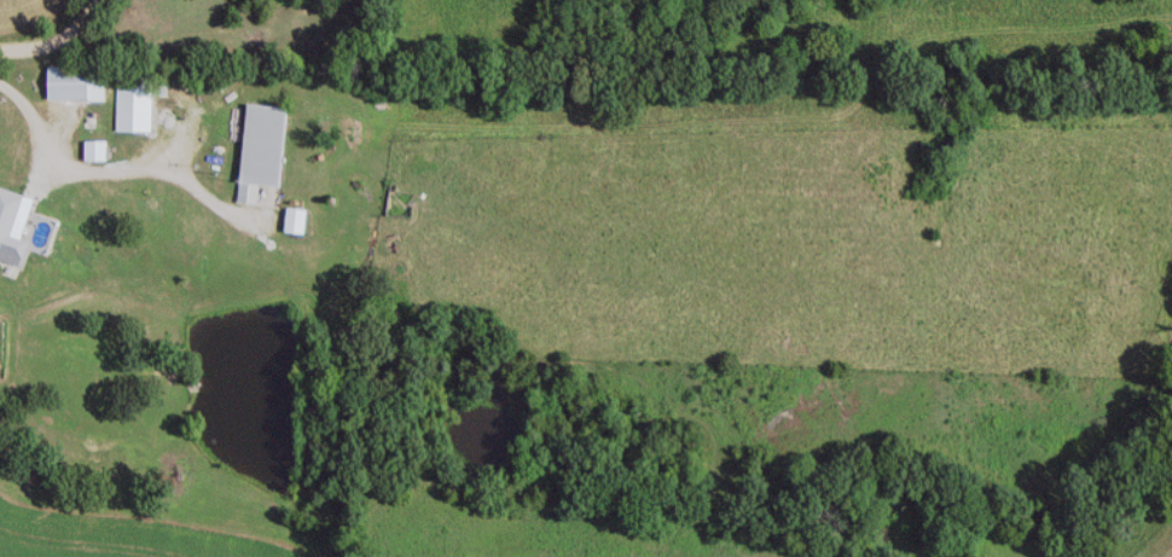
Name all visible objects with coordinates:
road: (53, 35)
building: (82, 80)
building: (139, 101)
building: (269, 146)
building: (101, 147)
road: (108, 170)
building: (302, 216)
building: (14, 224)

